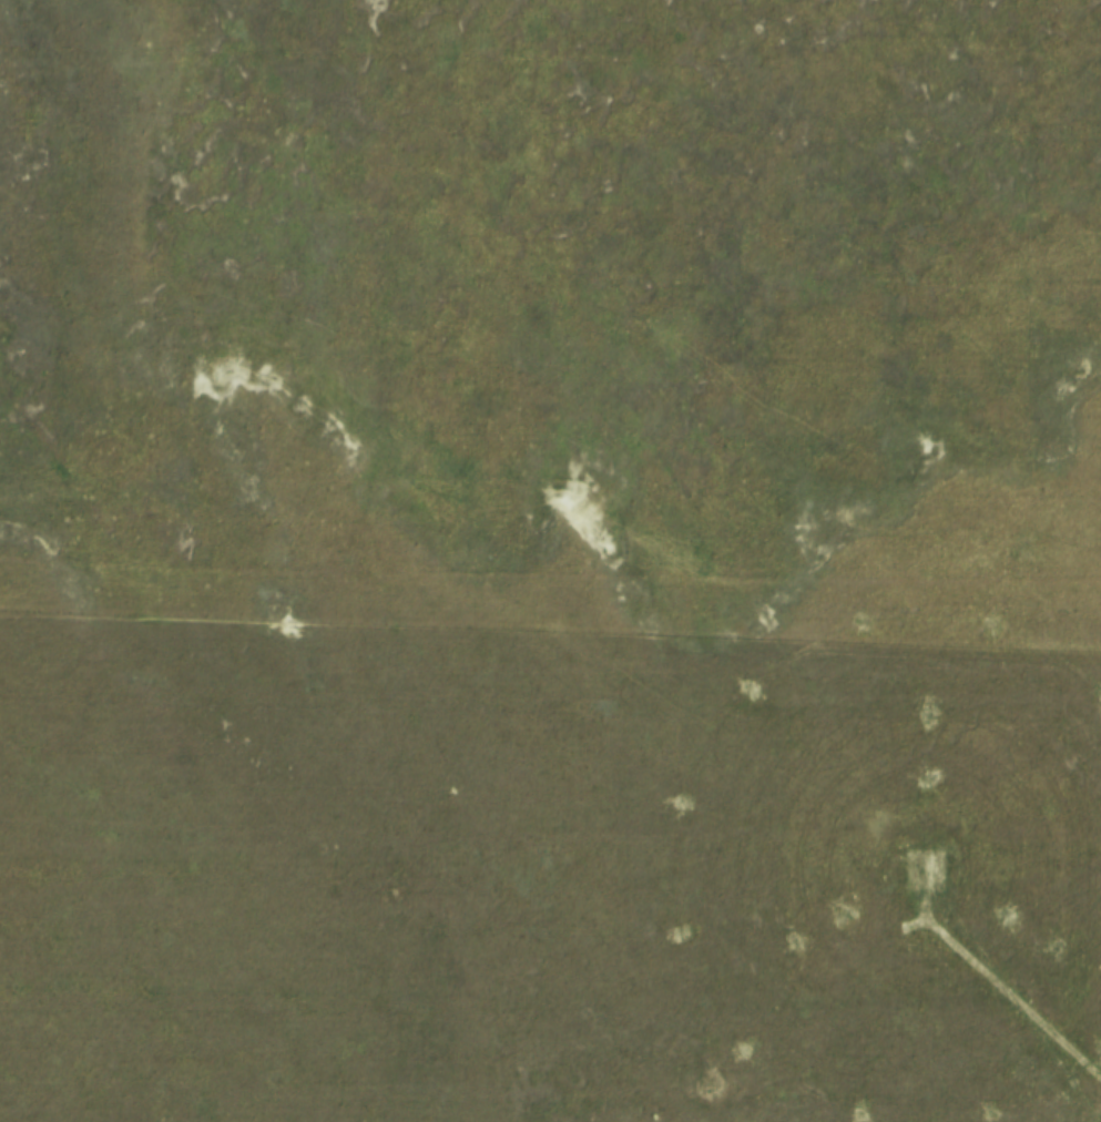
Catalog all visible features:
building: (921, 883)
road: (1013, 1001)

